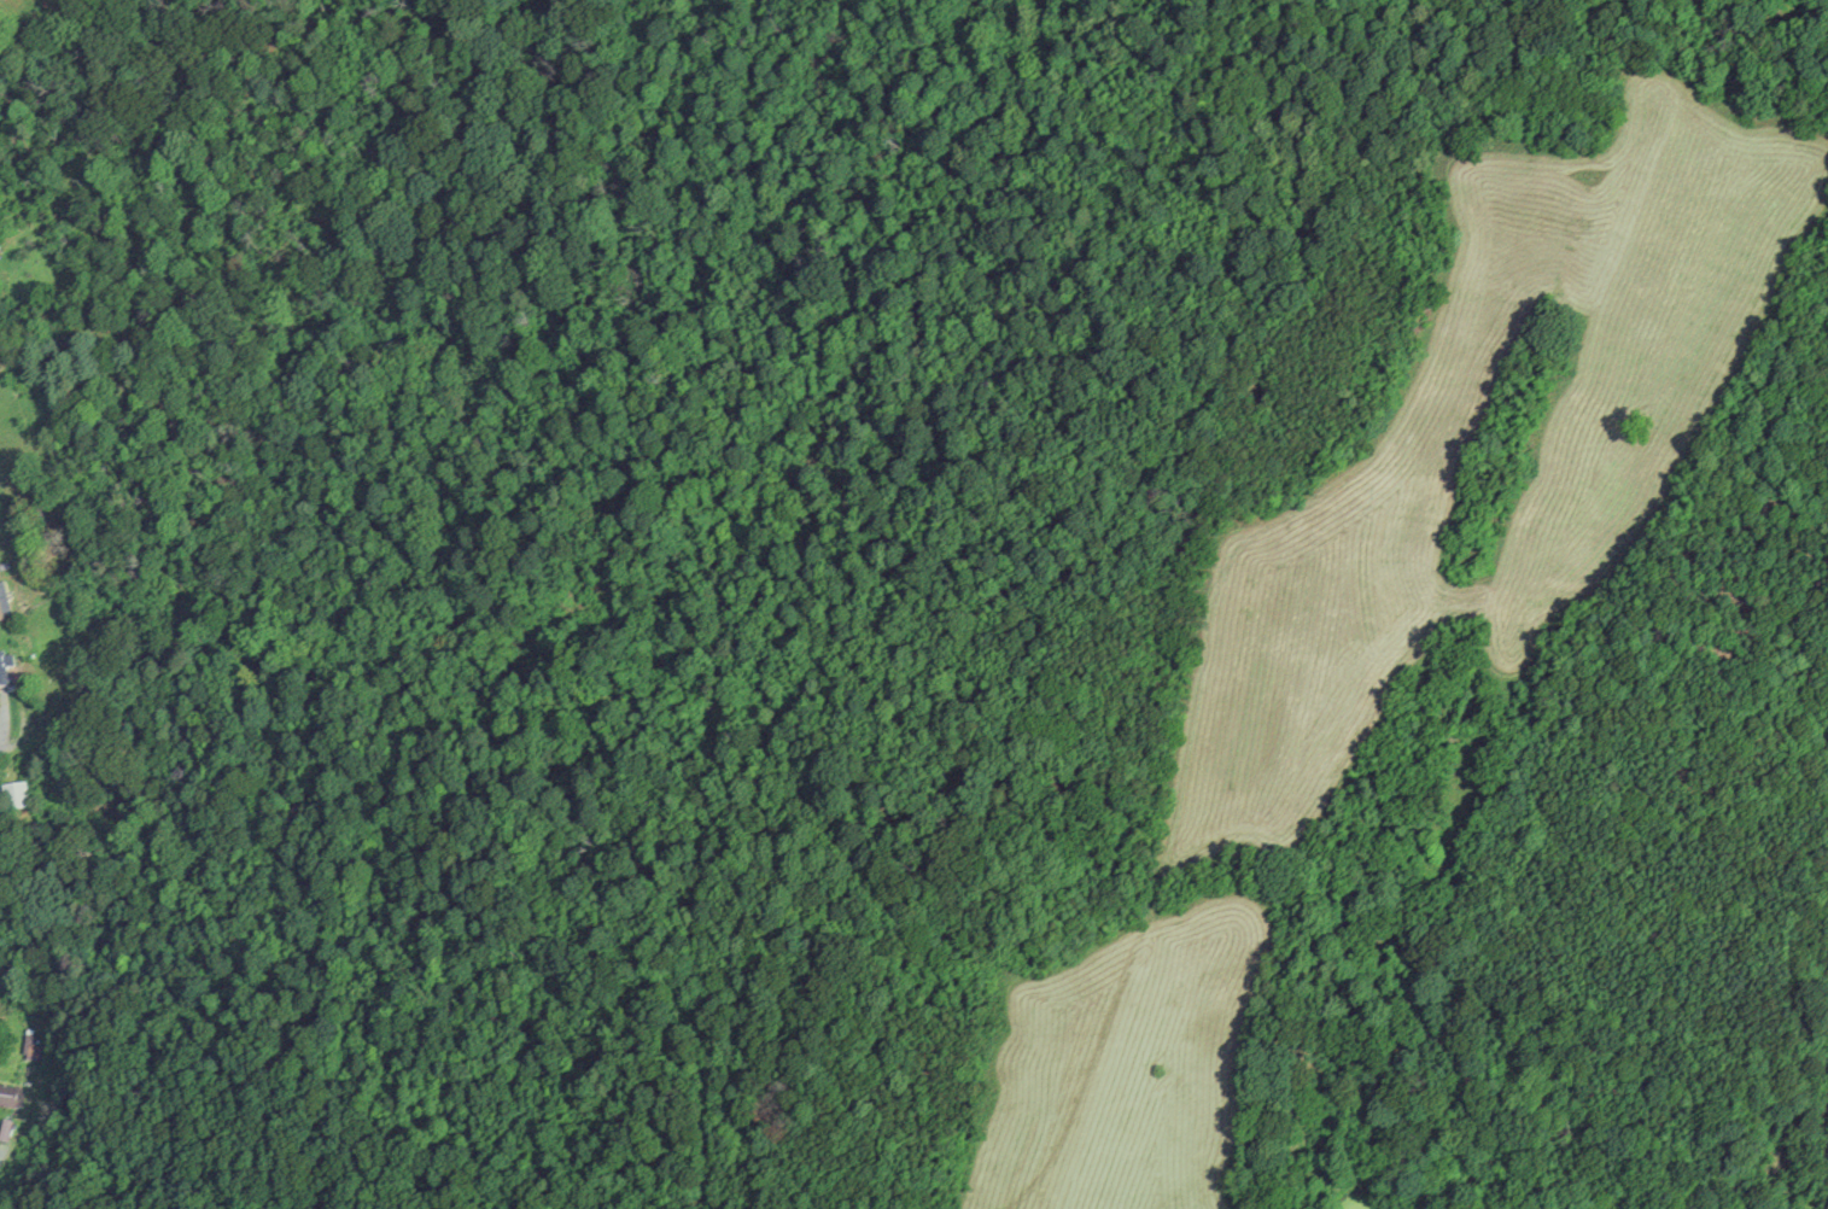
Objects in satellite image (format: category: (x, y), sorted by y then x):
building: (4, 603)
building: (4, 666)
building: (14, 795)
building: (1, 1096)

